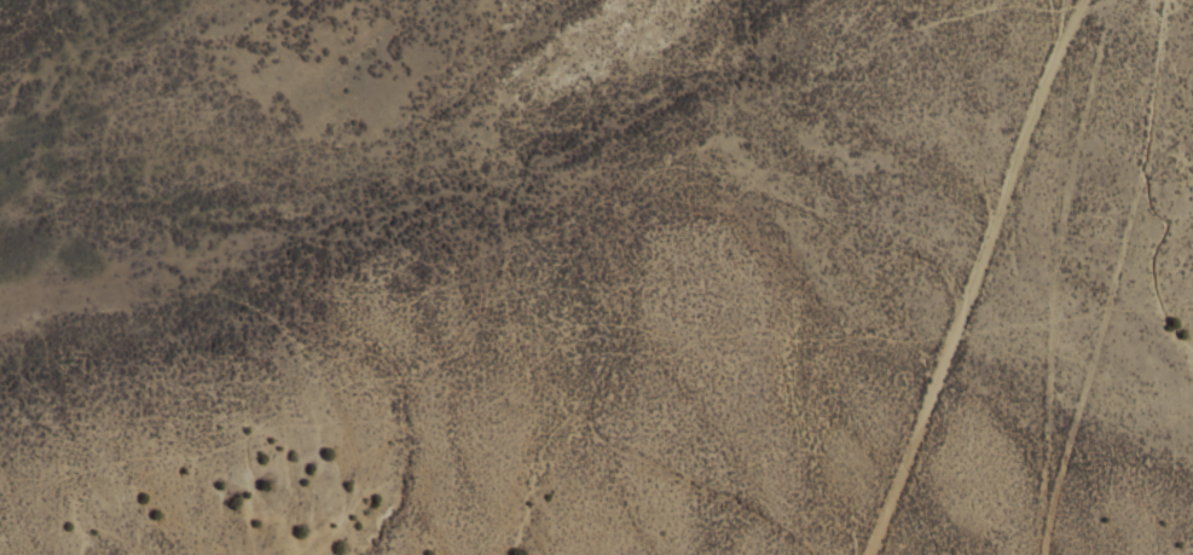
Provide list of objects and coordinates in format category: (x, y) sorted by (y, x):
road: (1078, 8)
river: (425, 212)
road: (968, 284)

